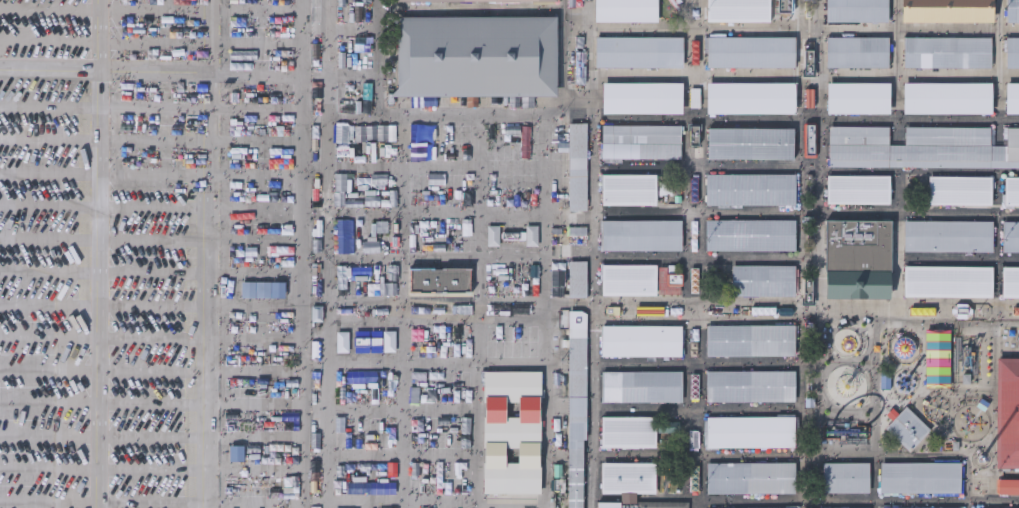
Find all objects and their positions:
building: (478, 1)
building: (624, 10)
building: (749, 10)
building: (856, 10)
building: (946, 10)
building: (1012, 10)
building: (637, 50)
building: (749, 50)
building: (856, 50)
building: (946, 51)
building: (1012, 51)
building: (474, 54)
road: (140, 71)
road: (377, 82)
building: (642, 97)
building: (750, 97)
building: (858, 97)
building: (945, 97)
building: (1012, 97)
road: (483, 113)
building: (369, 132)
building: (809, 139)
building: (748, 142)
building: (639, 144)
building: (920, 146)
building: (347, 151)
building: (627, 188)
building: (749, 188)
building: (856, 188)
building: (959, 189)
building: (1011, 190)
building: (576, 208)
building: (748, 233)
building: (639, 234)
building: (947, 235)
building: (1010, 235)
building: (345, 237)
building: (494, 237)
building: (857, 244)
parking lot: (106, 253)
road: (799, 253)
road: (101, 254)
road: (327, 254)
road: (590, 254)
building: (627, 279)
building: (761, 279)
building: (947, 280)
building: (1010, 281)
building: (857, 285)
road: (206, 290)
road: (804, 311)
building: (639, 339)
building: (749, 339)
building: (847, 340)
building: (390, 342)
building: (905, 349)
building: (954, 359)
building: (749, 384)
building: (640, 385)
building: (846, 387)
building: (574, 409)
road: (693, 409)
building: (1007, 411)
building: (906, 427)
building: (749, 430)
building: (626, 431)
building: (847, 432)
building: (626, 476)
building: (750, 476)
building: (844, 476)
building: (919, 476)
building: (1008, 485)
building: (370, 488)
road: (856, 500)
building: (637, 505)
building: (749, 507)
building: (844, 507)
building: (918, 507)

